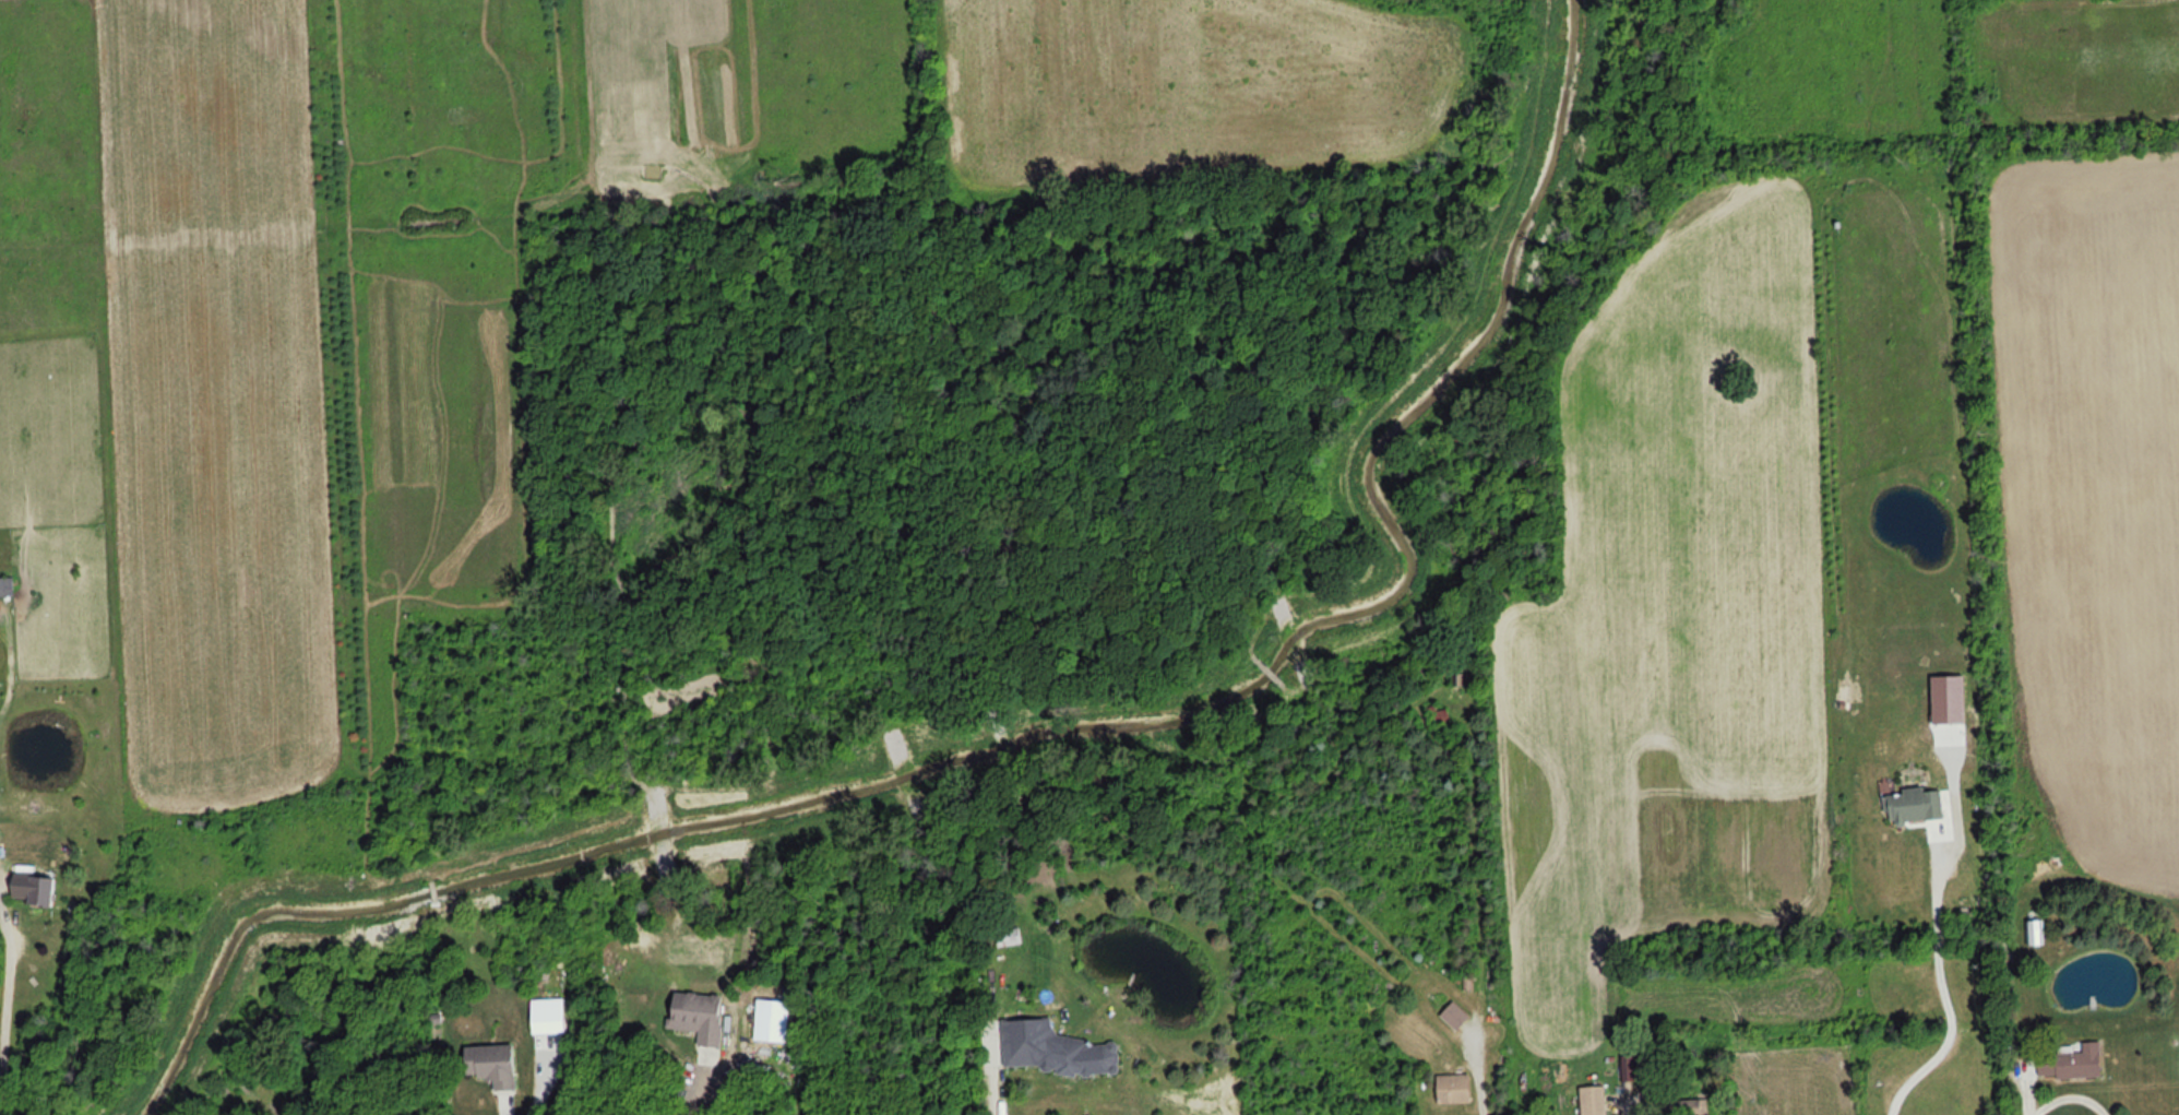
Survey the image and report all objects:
building: (5, 585)
building: (1914, 805)
building: (34, 889)
building: (2034, 932)
building: (1009, 936)
road: (1943, 992)
road: (7, 994)
building: (696, 1015)
building: (1453, 1015)
building: (773, 1020)
building: (1051, 1048)
building: (2070, 1063)
building: (490, 1064)
building: (1452, 1088)
road: (995, 1089)
road: (694, 1100)
building: (1592, 1100)
road: (1480, 1101)
building: (1693, 1106)
road: (505, 1110)
road: (0, 1113)

